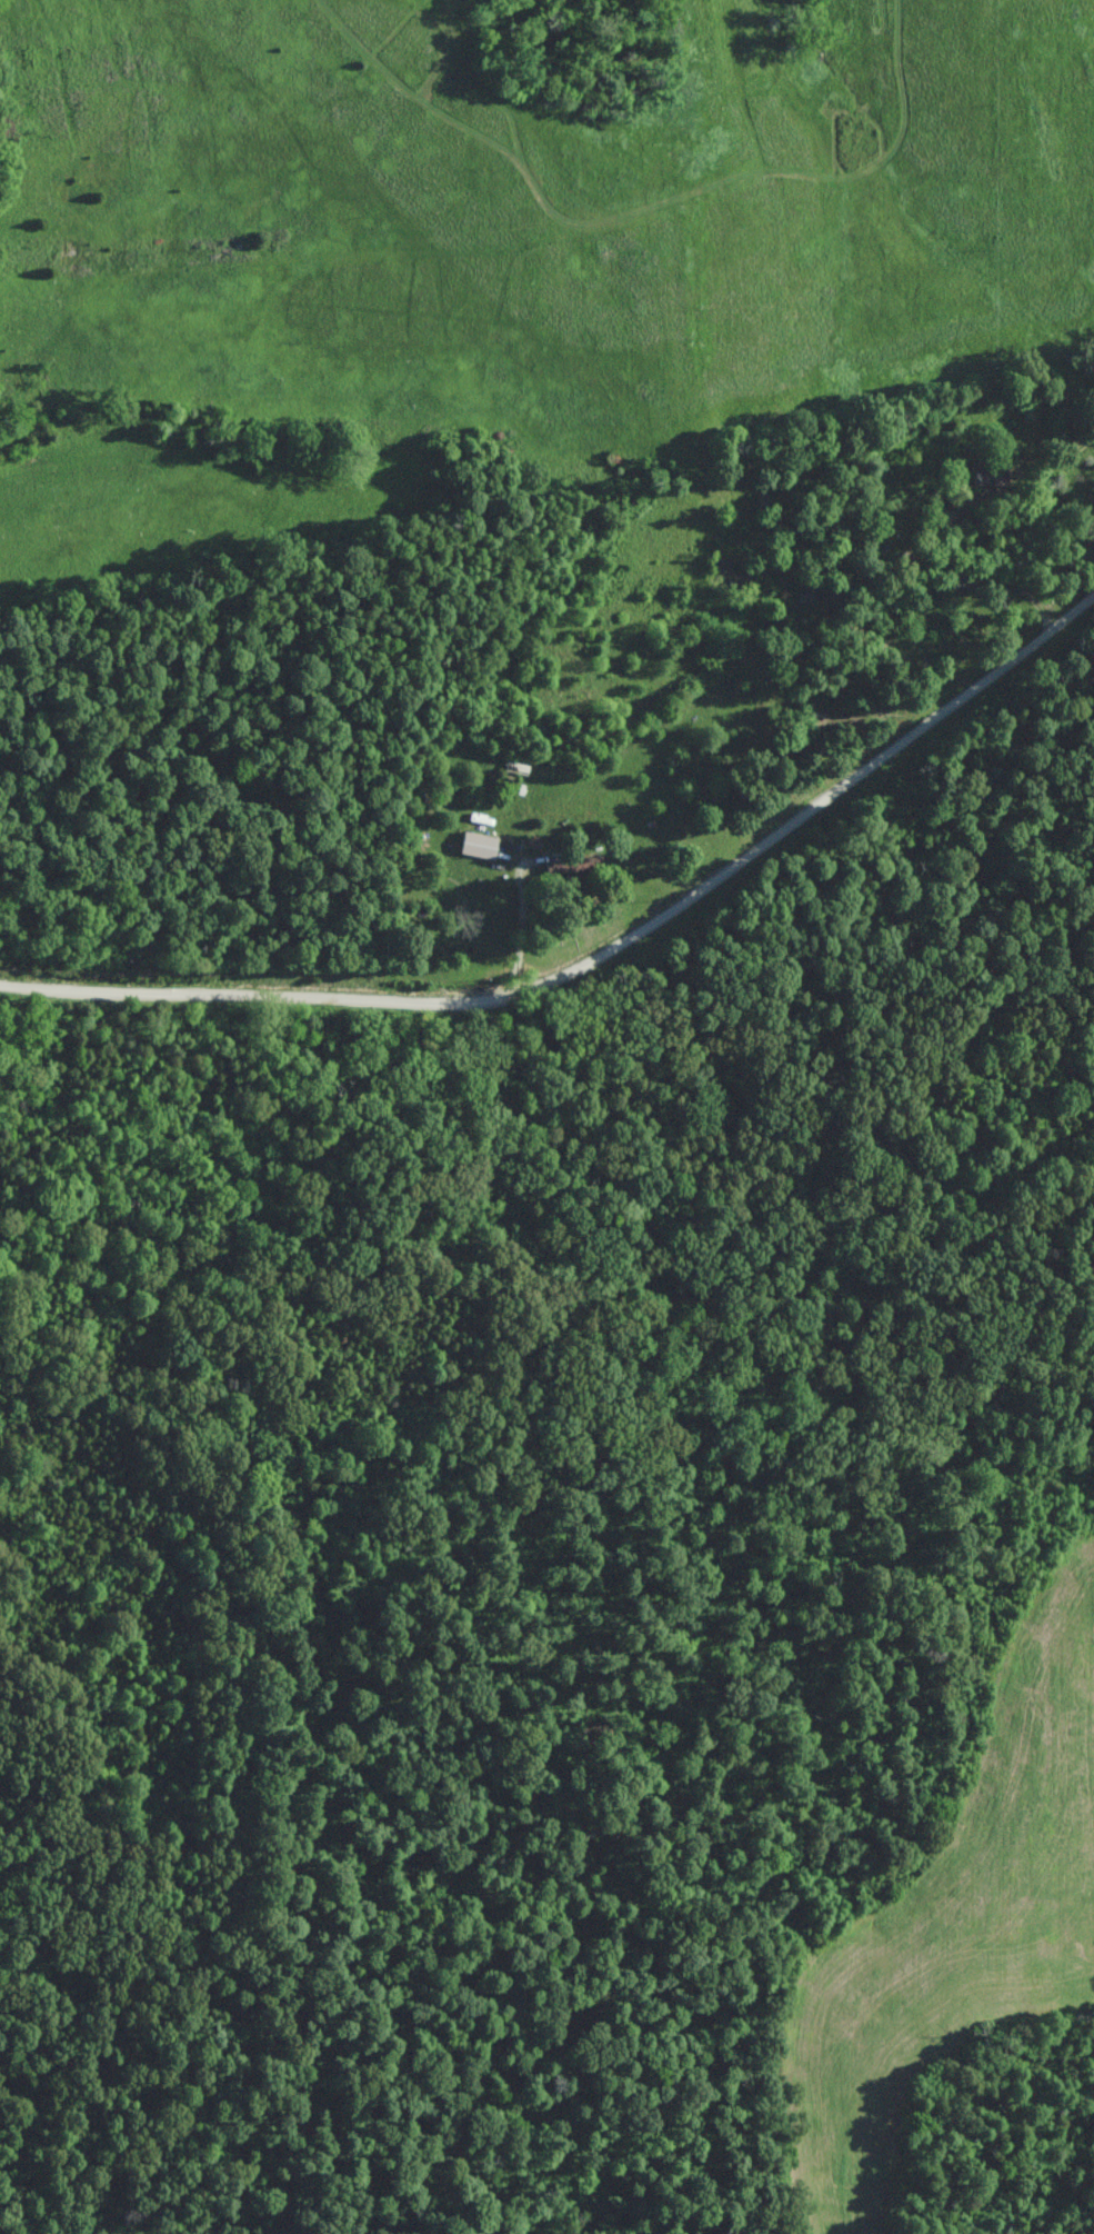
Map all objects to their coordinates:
building: (985, 475)
building: (478, 846)
road: (604, 976)

